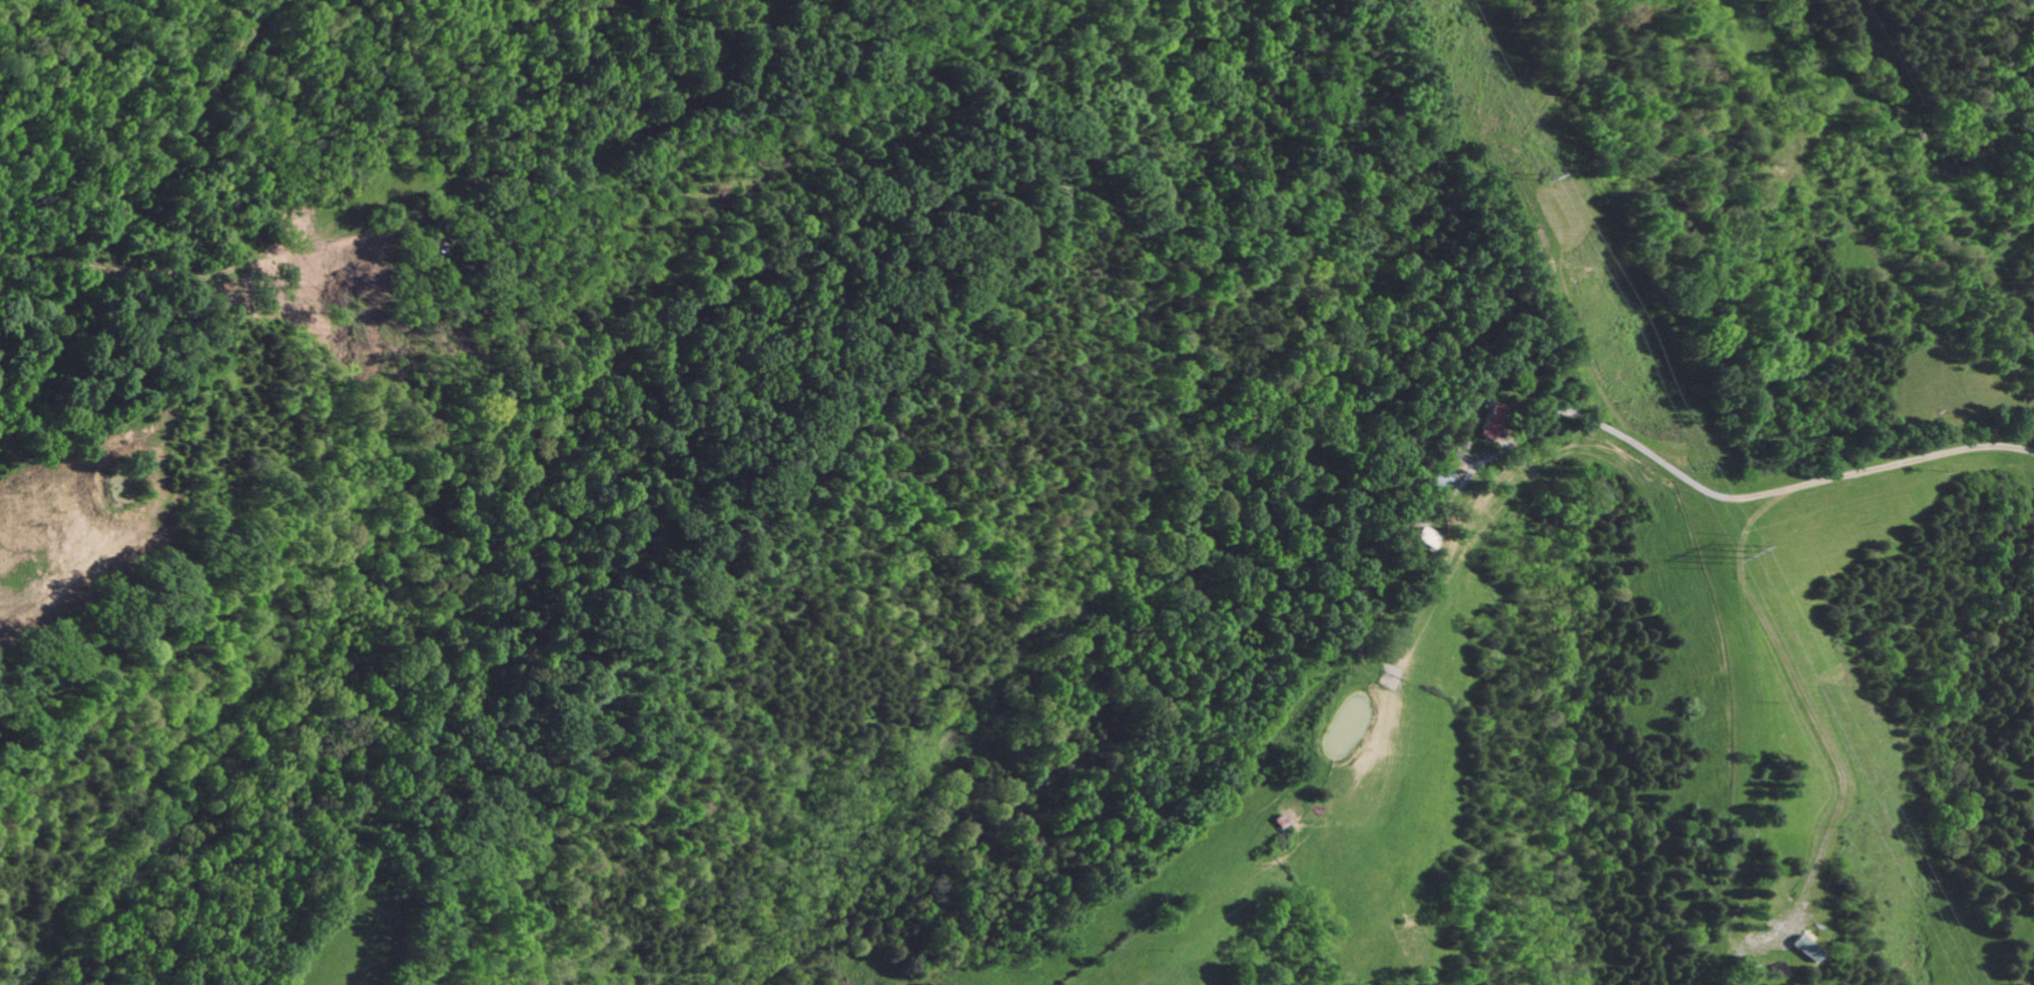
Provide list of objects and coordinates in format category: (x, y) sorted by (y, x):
building: (1494, 420)
road: (1614, 429)
road: (1832, 476)
road: (1338, 724)
building: (1806, 949)

